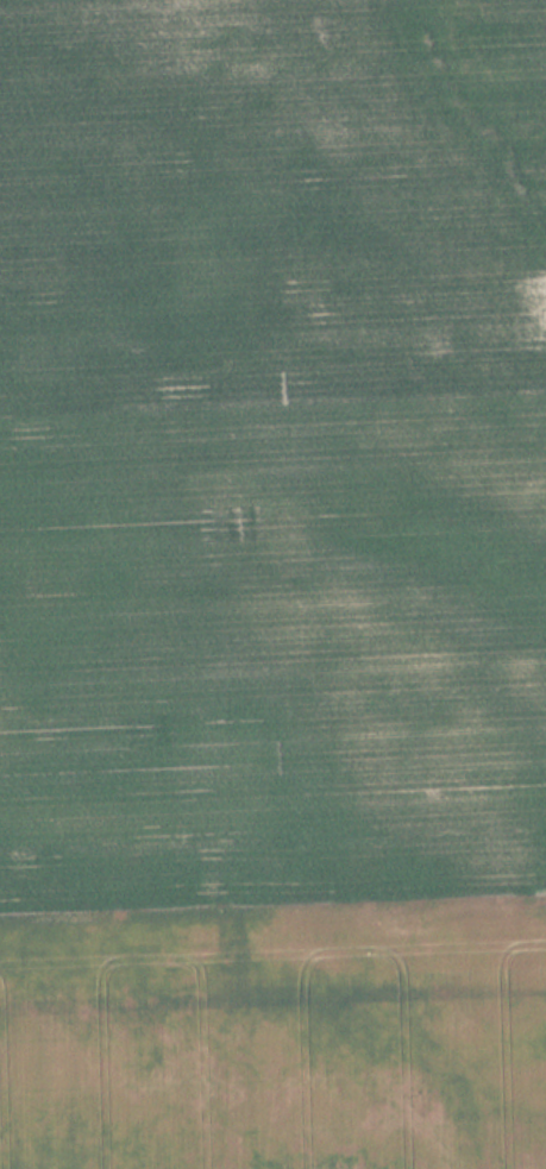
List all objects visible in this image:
power tower: (427, 1095)

